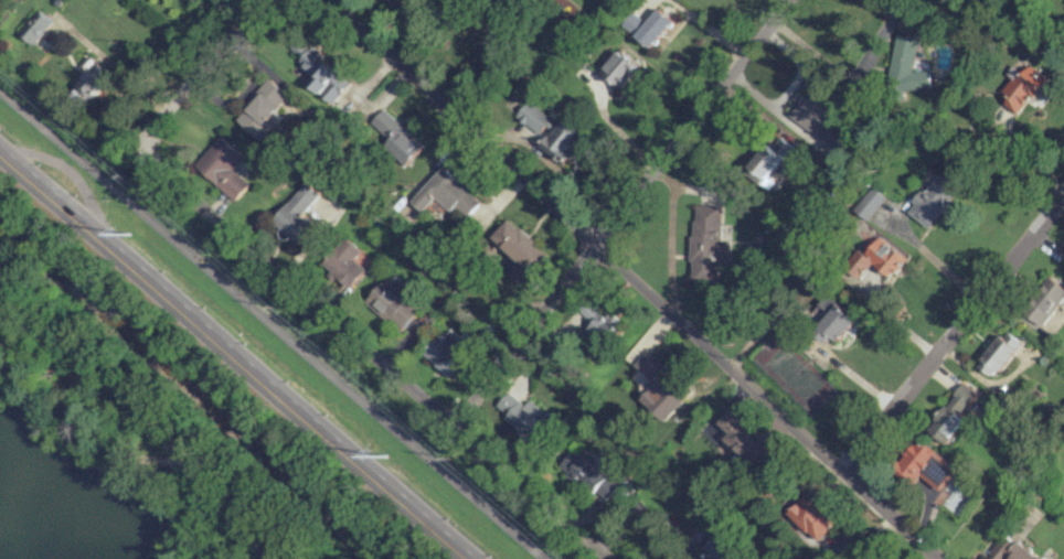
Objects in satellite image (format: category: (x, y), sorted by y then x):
road: (705, 25)
building: (34, 26)
building: (649, 26)
building: (908, 64)
building: (619, 68)
building: (323, 75)
road: (845, 75)
building: (91, 82)
building: (1020, 87)
building: (263, 110)
building: (820, 117)
building: (533, 118)
building: (396, 137)
building: (561, 140)
building: (769, 161)
building: (223, 168)
building: (446, 193)
building: (933, 200)
building: (870, 203)
road: (617, 211)
building: (297, 214)
building: (709, 243)
building: (520, 246)
building: (880, 258)
building: (1062, 258)
building: (344, 262)
road: (631, 277)
road: (305, 293)
building: (1044, 301)
building: (395, 305)
building: (824, 308)
building: (598, 322)
building: (838, 323)
road: (268, 325)
road: (953, 331)
building: (999, 353)
building: (448, 354)
road: (232, 357)
building: (661, 388)
building: (951, 413)
road: (137, 415)
building: (524, 418)
park: (149, 426)
building: (743, 440)
building: (925, 465)
building: (588, 476)
building: (813, 517)
building: (716, 548)

